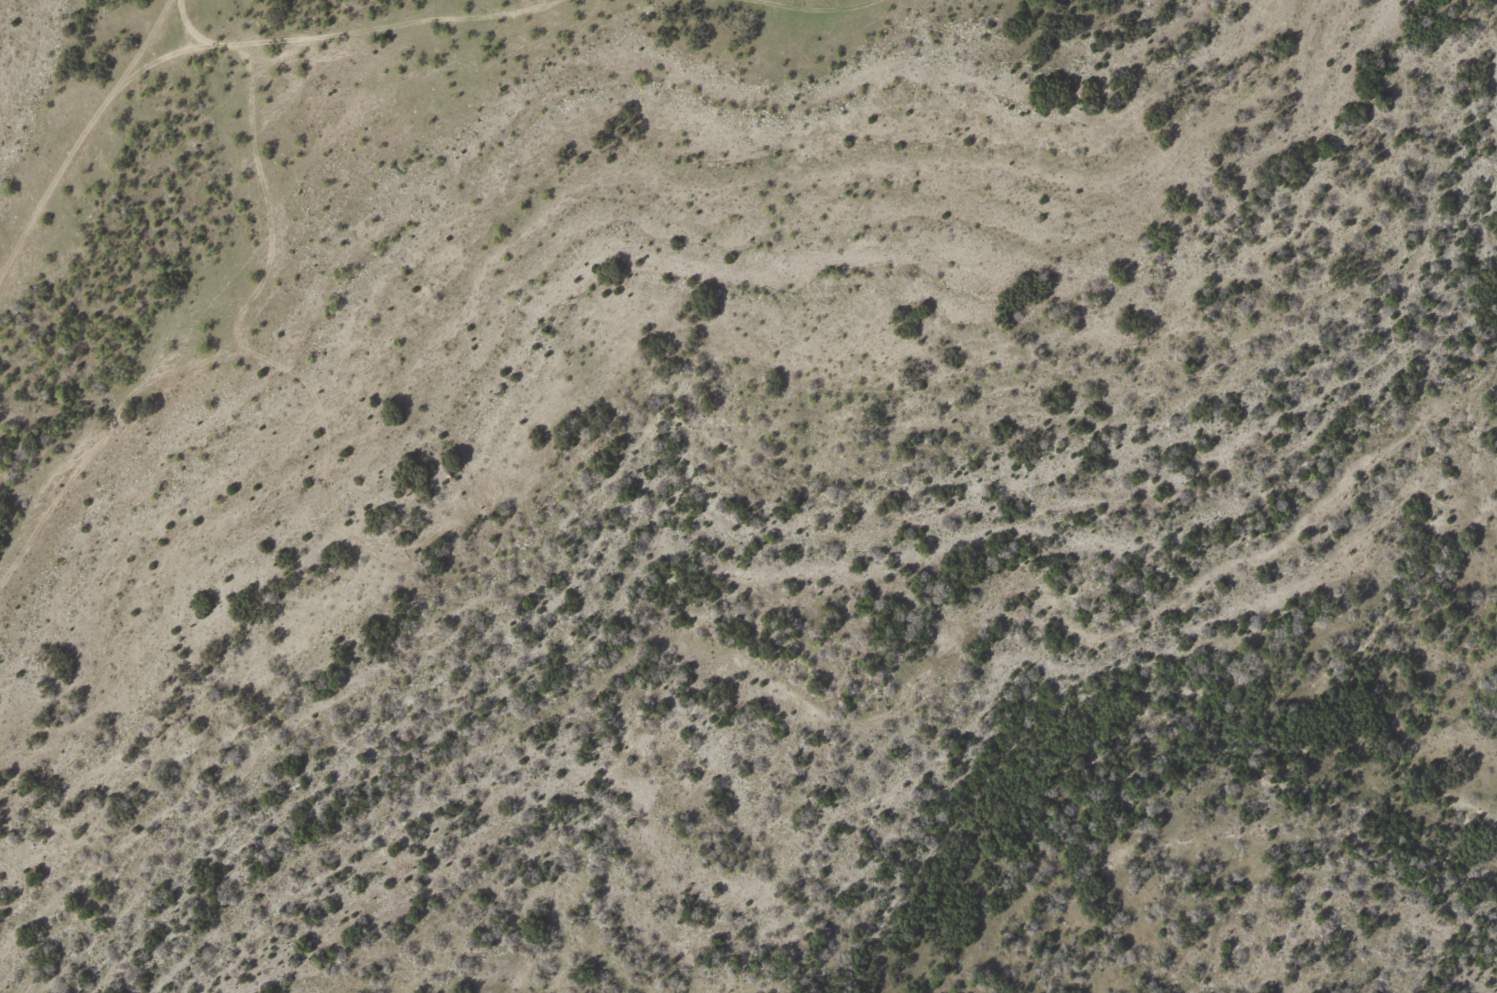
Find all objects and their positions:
road: (412, 28)
road: (89, 127)

